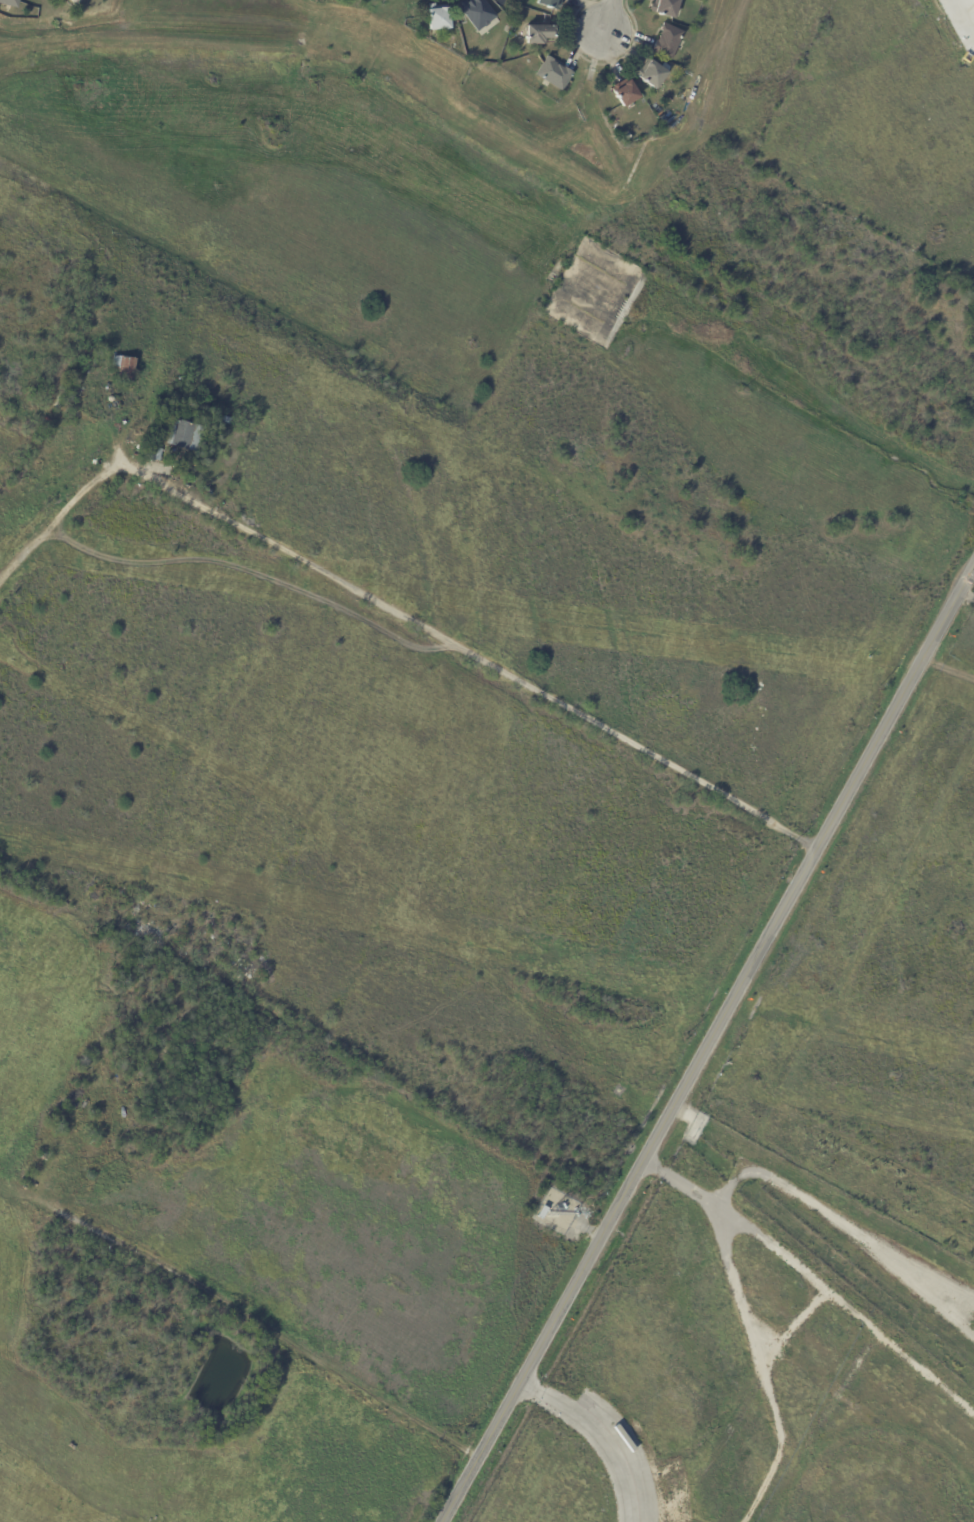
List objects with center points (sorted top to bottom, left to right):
building: (75, 2)
building: (9, 3)
building: (525, 3)
building: (550, 5)
building: (668, 9)
building: (478, 15)
road: (607, 17)
building: (439, 19)
building: (540, 37)
building: (668, 42)
building: (554, 76)
building: (653, 76)
building: (628, 96)
building: (628, 138)
park: (303, 197)
building: (125, 368)
building: (226, 420)
building: (186, 434)
building: (154, 454)
road: (393, 612)
road: (707, 1041)
building: (43, 1155)
building: (75, 1175)
building: (543, 1212)
road: (610, 1429)

